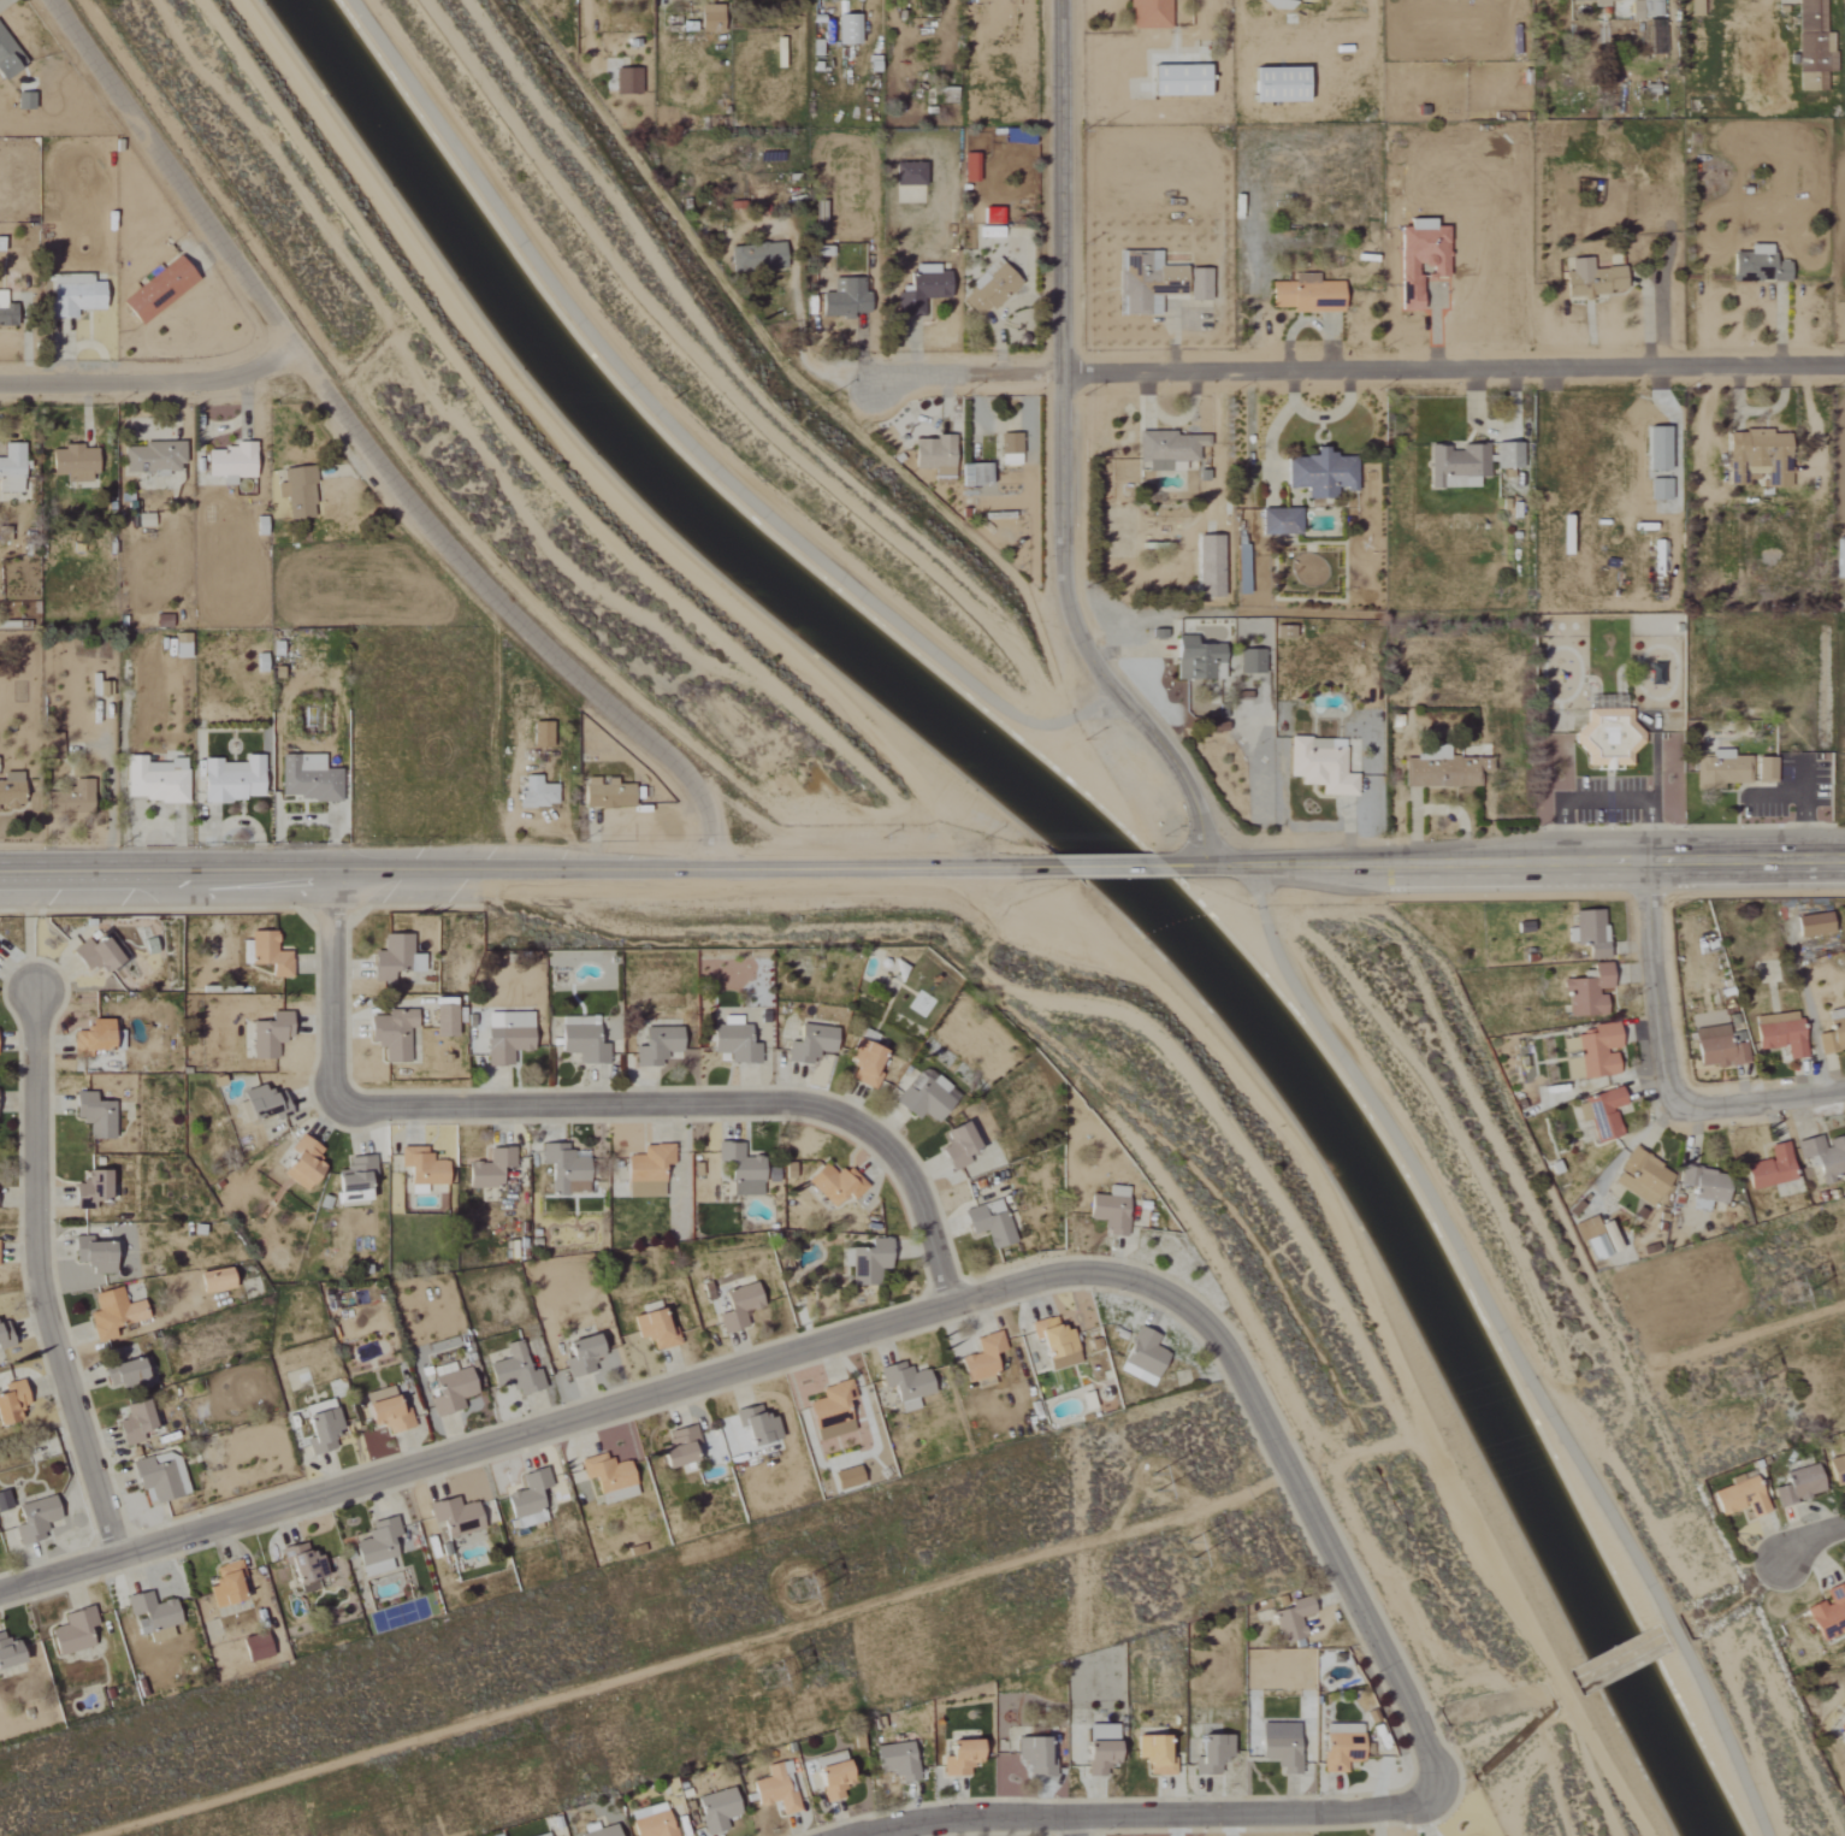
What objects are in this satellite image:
building: (1599, 1)
building: (1273, 4)
building: (1644, 8)
building: (1147, 13)
building: (846, 29)
road: (584, 33)
building: (8, 57)
building: (625, 81)
building: (1176, 81)
building: (1273, 84)
building: (28, 101)
building: (968, 167)
building: (906, 175)
building: (988, 232)
building: (756, 256)
building: (1418, 264)
building: (1756, 266)
building: (1590, 279)
building: (1146, 283)
building: (1198, 285)
building: (162, 289)
building: (917, 289)
building: (987, 289)
building: (78, 294)
building: (1305, 295)
building: (844, 299)
building: (8, 312)
road: (808, 355)
road: (1455, 359)
road: (971, 367)
road: (155, 380)
road: (715, 380)
road: (691, 420)
building: (1656, 447)
road: (521, 448)
building: (1007, 448)
building: (1167, 449)
road: (1068, 451)
building: (932, 454)
building: (1506, 454)
road: (371, 456)
building: (1757, 456)
building: (156, 459)
building: (236, 462)
building: (76, 464)
road: (574, 465)
building: (1455, 465)
building: (13, 468)
building: (971, 473)
building: (1318, 473)
building: (1657, 489)
building: (297, 492)
road: (1760, 496)
building: (146, 520)
building: (1278, 521)
building: (1208, 565)
building: (160, 620)
building: (178, 650)
building: (1195, 659)
building: (260, 662)
building: (1249, 662)
building: (1648, 674)
building: (93, 684)
building: (539, 733)
building: (1605, 733)
building: (1319, 764)
building: (1764, 768)
building: (1722, 769)
building: (1443, 773)
building: (230, 778)
building: (306, 778)
building: (156, 780)
building: (10, 789)
building: (534, 792)
building: (605, 793)
building: (72, 797)
road: (1605, 799)
road: (1803, 804)
road: (1513, 863)
road: (1124, 867)
road: (533, 874)
building: (1811, 923)
building: (1587, 932)
building: (94, 951)
building: (267, 954)
building: (391, 957)
road: (1655, 980)
building: (1586, 992)
building: (442, 1020)
building: (1832, 1032)
building: (389, 1033)
building: (267, 1034)
building: (504, 1035)
building: (95, 1037)
building: (1779, 1037)
building: (579, 1039)
building: (731, 1041)
building: (810, 1041)
building: (655, 1045)
building: (1715, 1046)
building: (1592, 1052)
building: (863, 1062)
building: (924, 1097)
building: (259, 1103)
road: (592, 1106)
road: (1761, 1109)
building: (91, 1114)
building: (1599, 1114)
building: (954, 1146)
building: (1823, 1156)
building: (300, 1163)
building: (487, 1168)
building: (1767, 1168)
building: (420, 1169)
building: (562, 1169)
building: (741, 1169)
building: (644, 1170)
building: (783, 1170)
building: (1639, 1177)
building: (353, 1179)
building: (833, 1183)
building: (1703, 1186)
building: (87, 1189)
building: (1108, 1209)
building: (987, 1223)
building: (1593, 1236)
building: (90, 1254)
building: (864, 1262)
road: (36, 1276)
building: (212, 1280)
power tower: (1791, 1283)
road: (1364, 1300)
building: (735, 1306)
building: (110, 1313)
building: (651, 1329)
road: (867, 1333)
building: (1052, 1345)
road: (1519, 1346)
building: (579, 1354)
building: (1141, 1357)
building: (978, 1359)
building: (511, 1370)
power tower: (1745, 1382)
building: (903, 1385)
building: (450, 1391)
building: (10, 1400)
building: (385, 1409)
building: (829, 1411)
building: (130, 1423)
building: (755, 1425)
building: (318, 1429)
building: (673, 1446)
building: (1835, 1469)
building: (156, 1476)
building: (605, 1477)
building: (844, 1478)
building: (1796, 1484)
building: (1737, 1498)
building: (526, 1499)
building: (4, 1500)
building: (454, 1516)
building: (31, 1519)
road: (1810, 1535)
building: (374, 1547)
building: (301, 1564)
building: (223, 1583)
power tower: (803, 1583)
building: (1827, 1612)
building: (149, 1616)
building: (1289, 1620)
building: (71, 1631)
building: (253, 1647)
building: (8, 1652)
power tower: (779, 1671)
building: (1841, 1726)
building: (1277, 1745)
building: (1098, 1748)
building: (1338, 1752)
building: (1210, 1753)
building: (1153, 1754)
building: (1033, 1755)
building: (957, 1757)
building: (894, 1760)
building: (829, 1778)
building: (774, 1788)
building: (714, 1810)
road: (1154, 1813)
building: (649, 1820)
road: (1076, 1826)
building: (596, 1831)

